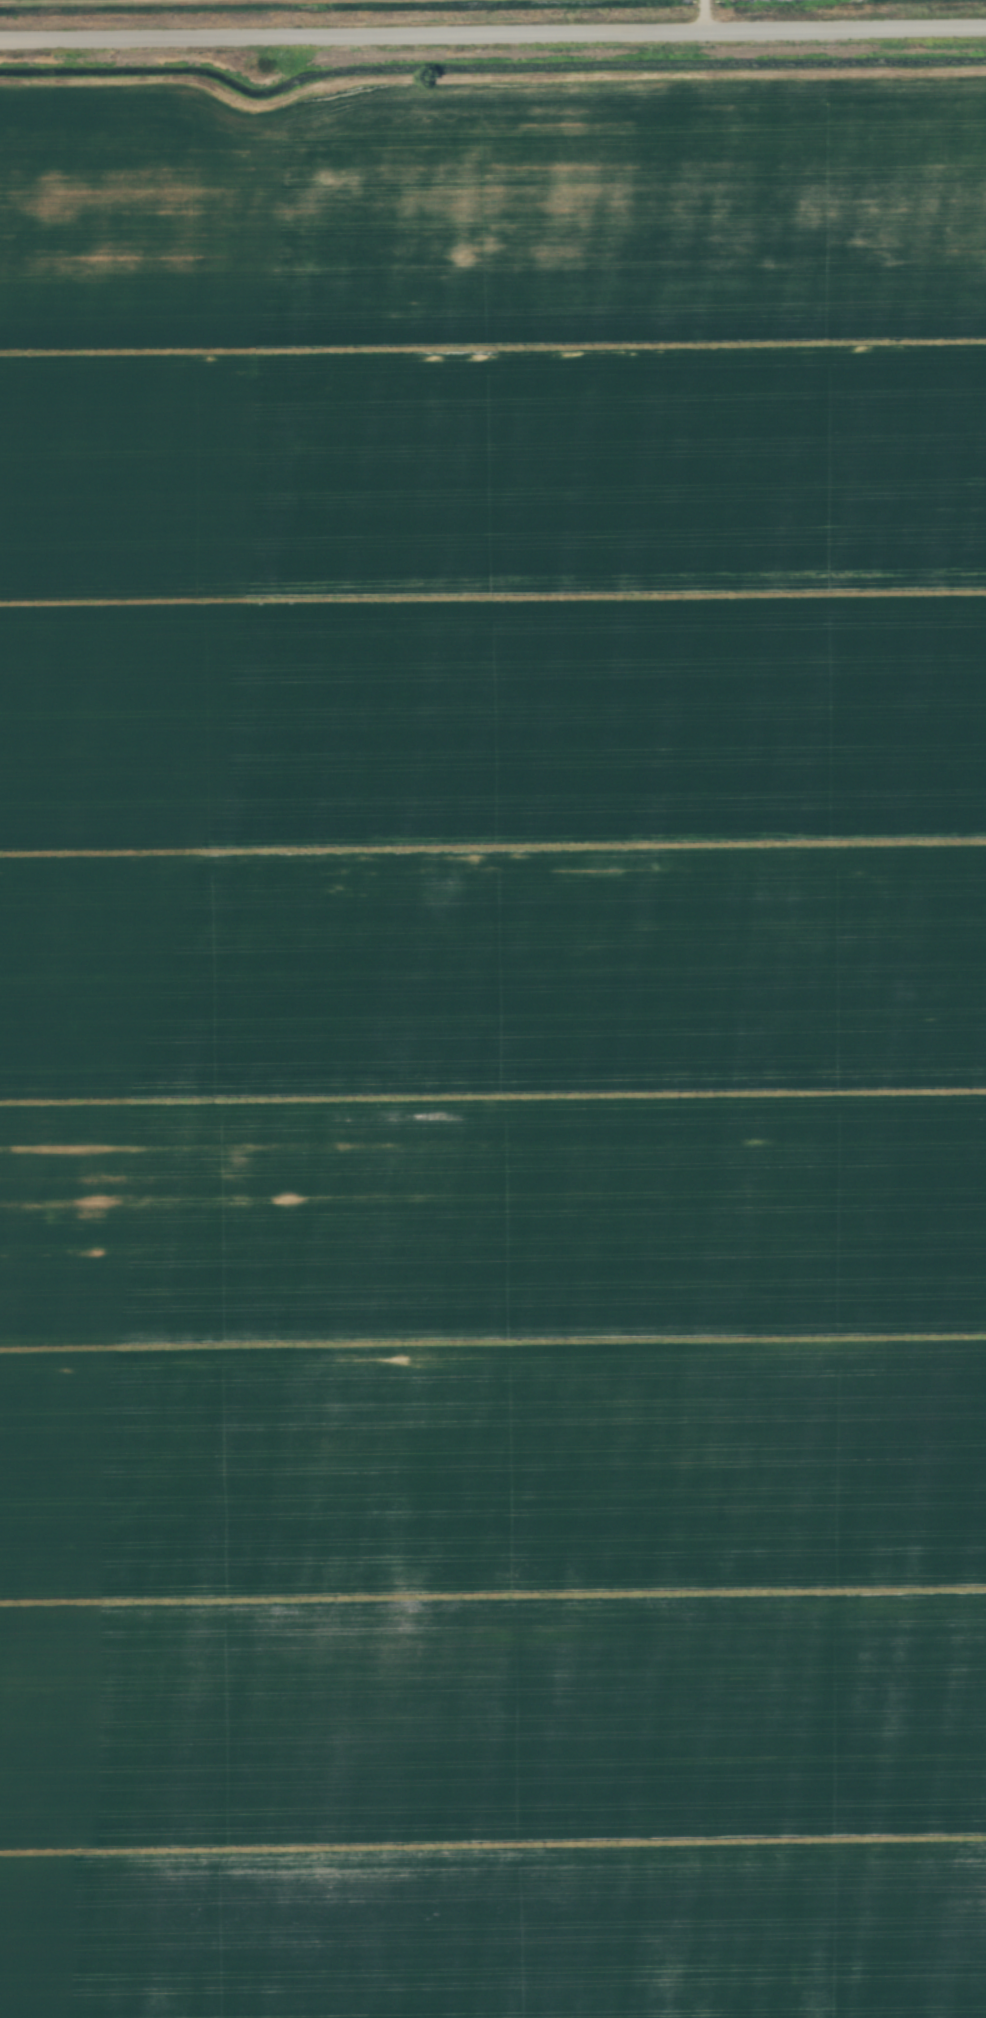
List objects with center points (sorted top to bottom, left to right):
road: (493, 44)

